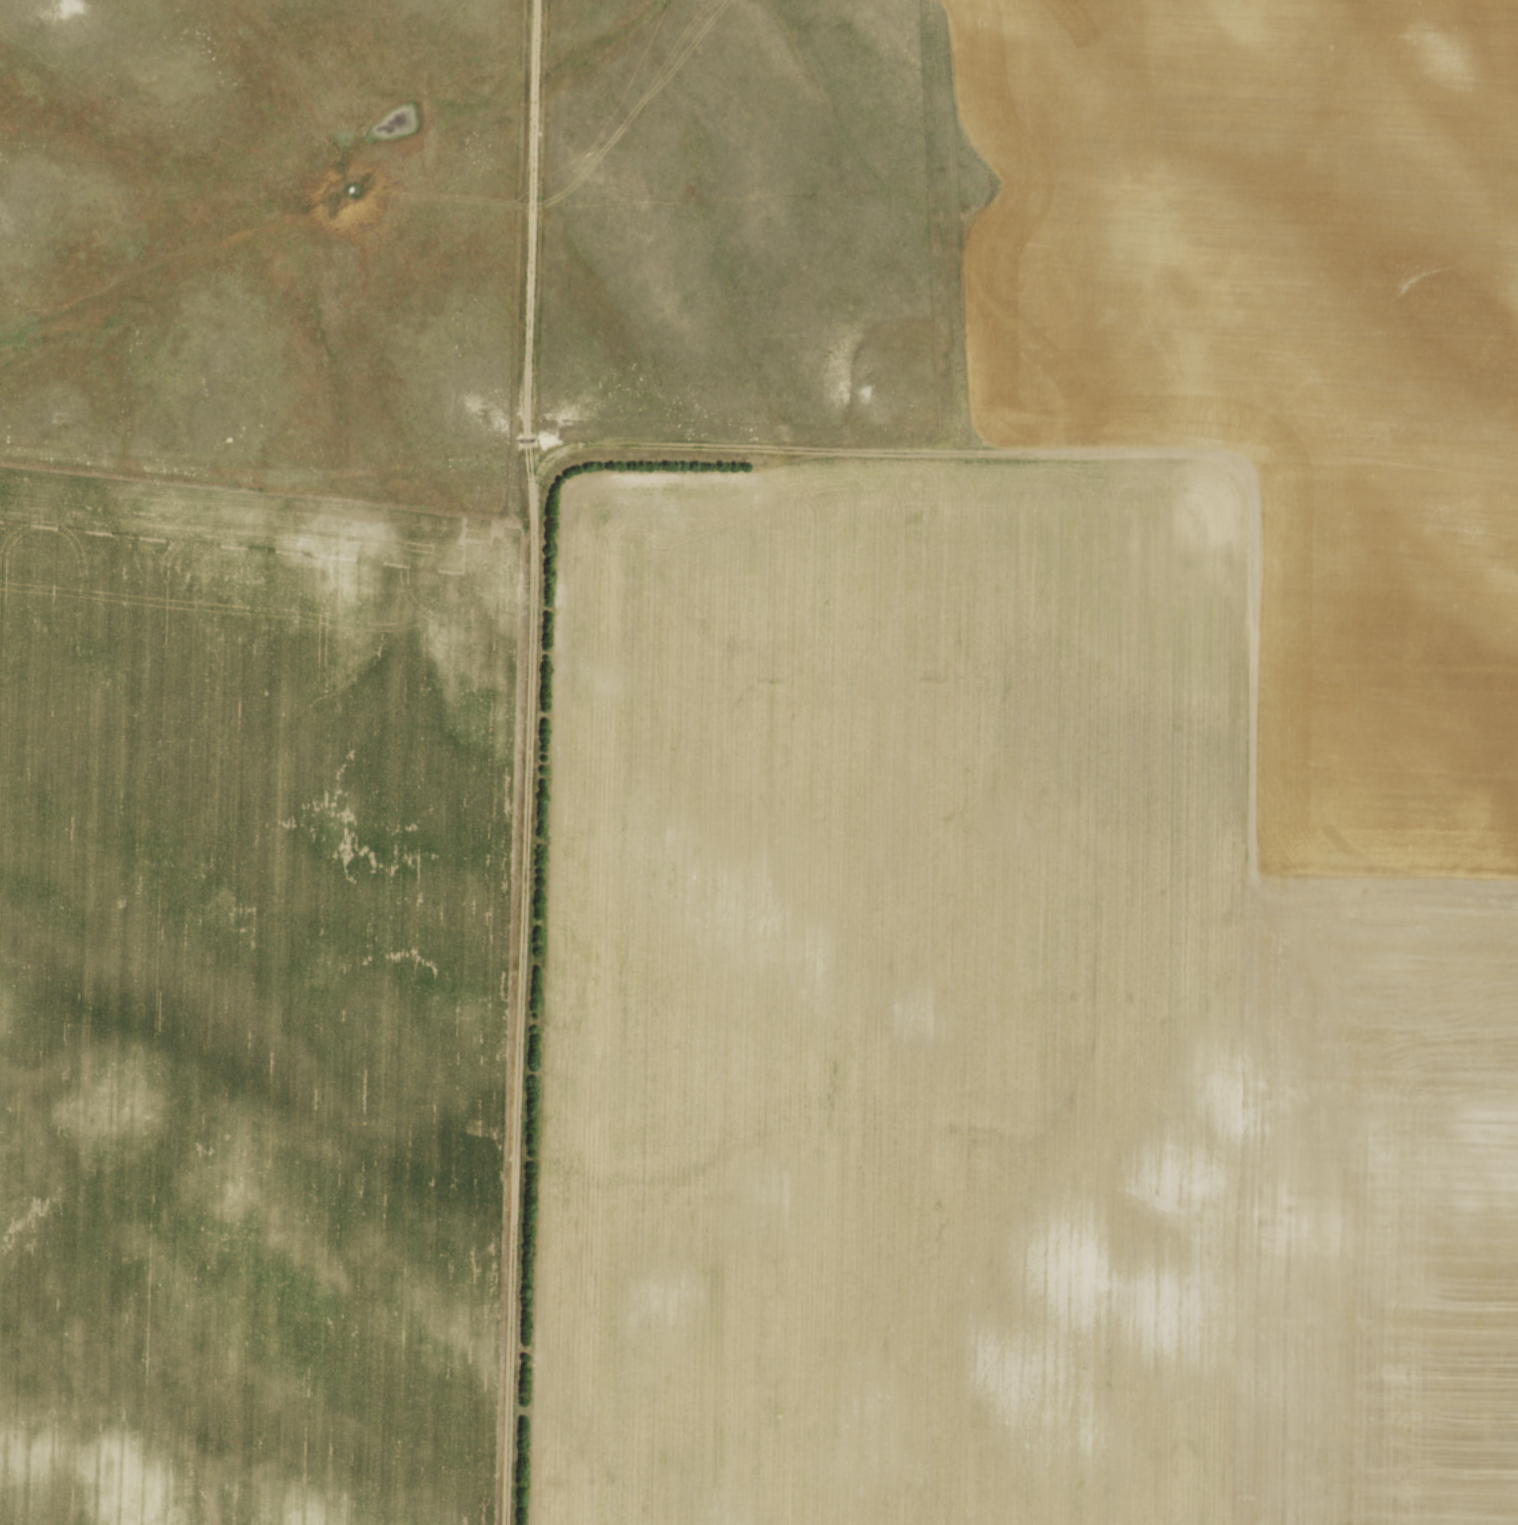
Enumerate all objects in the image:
road: (527, 762)
crop: (1072, 845)
crop: (249, 1002)

